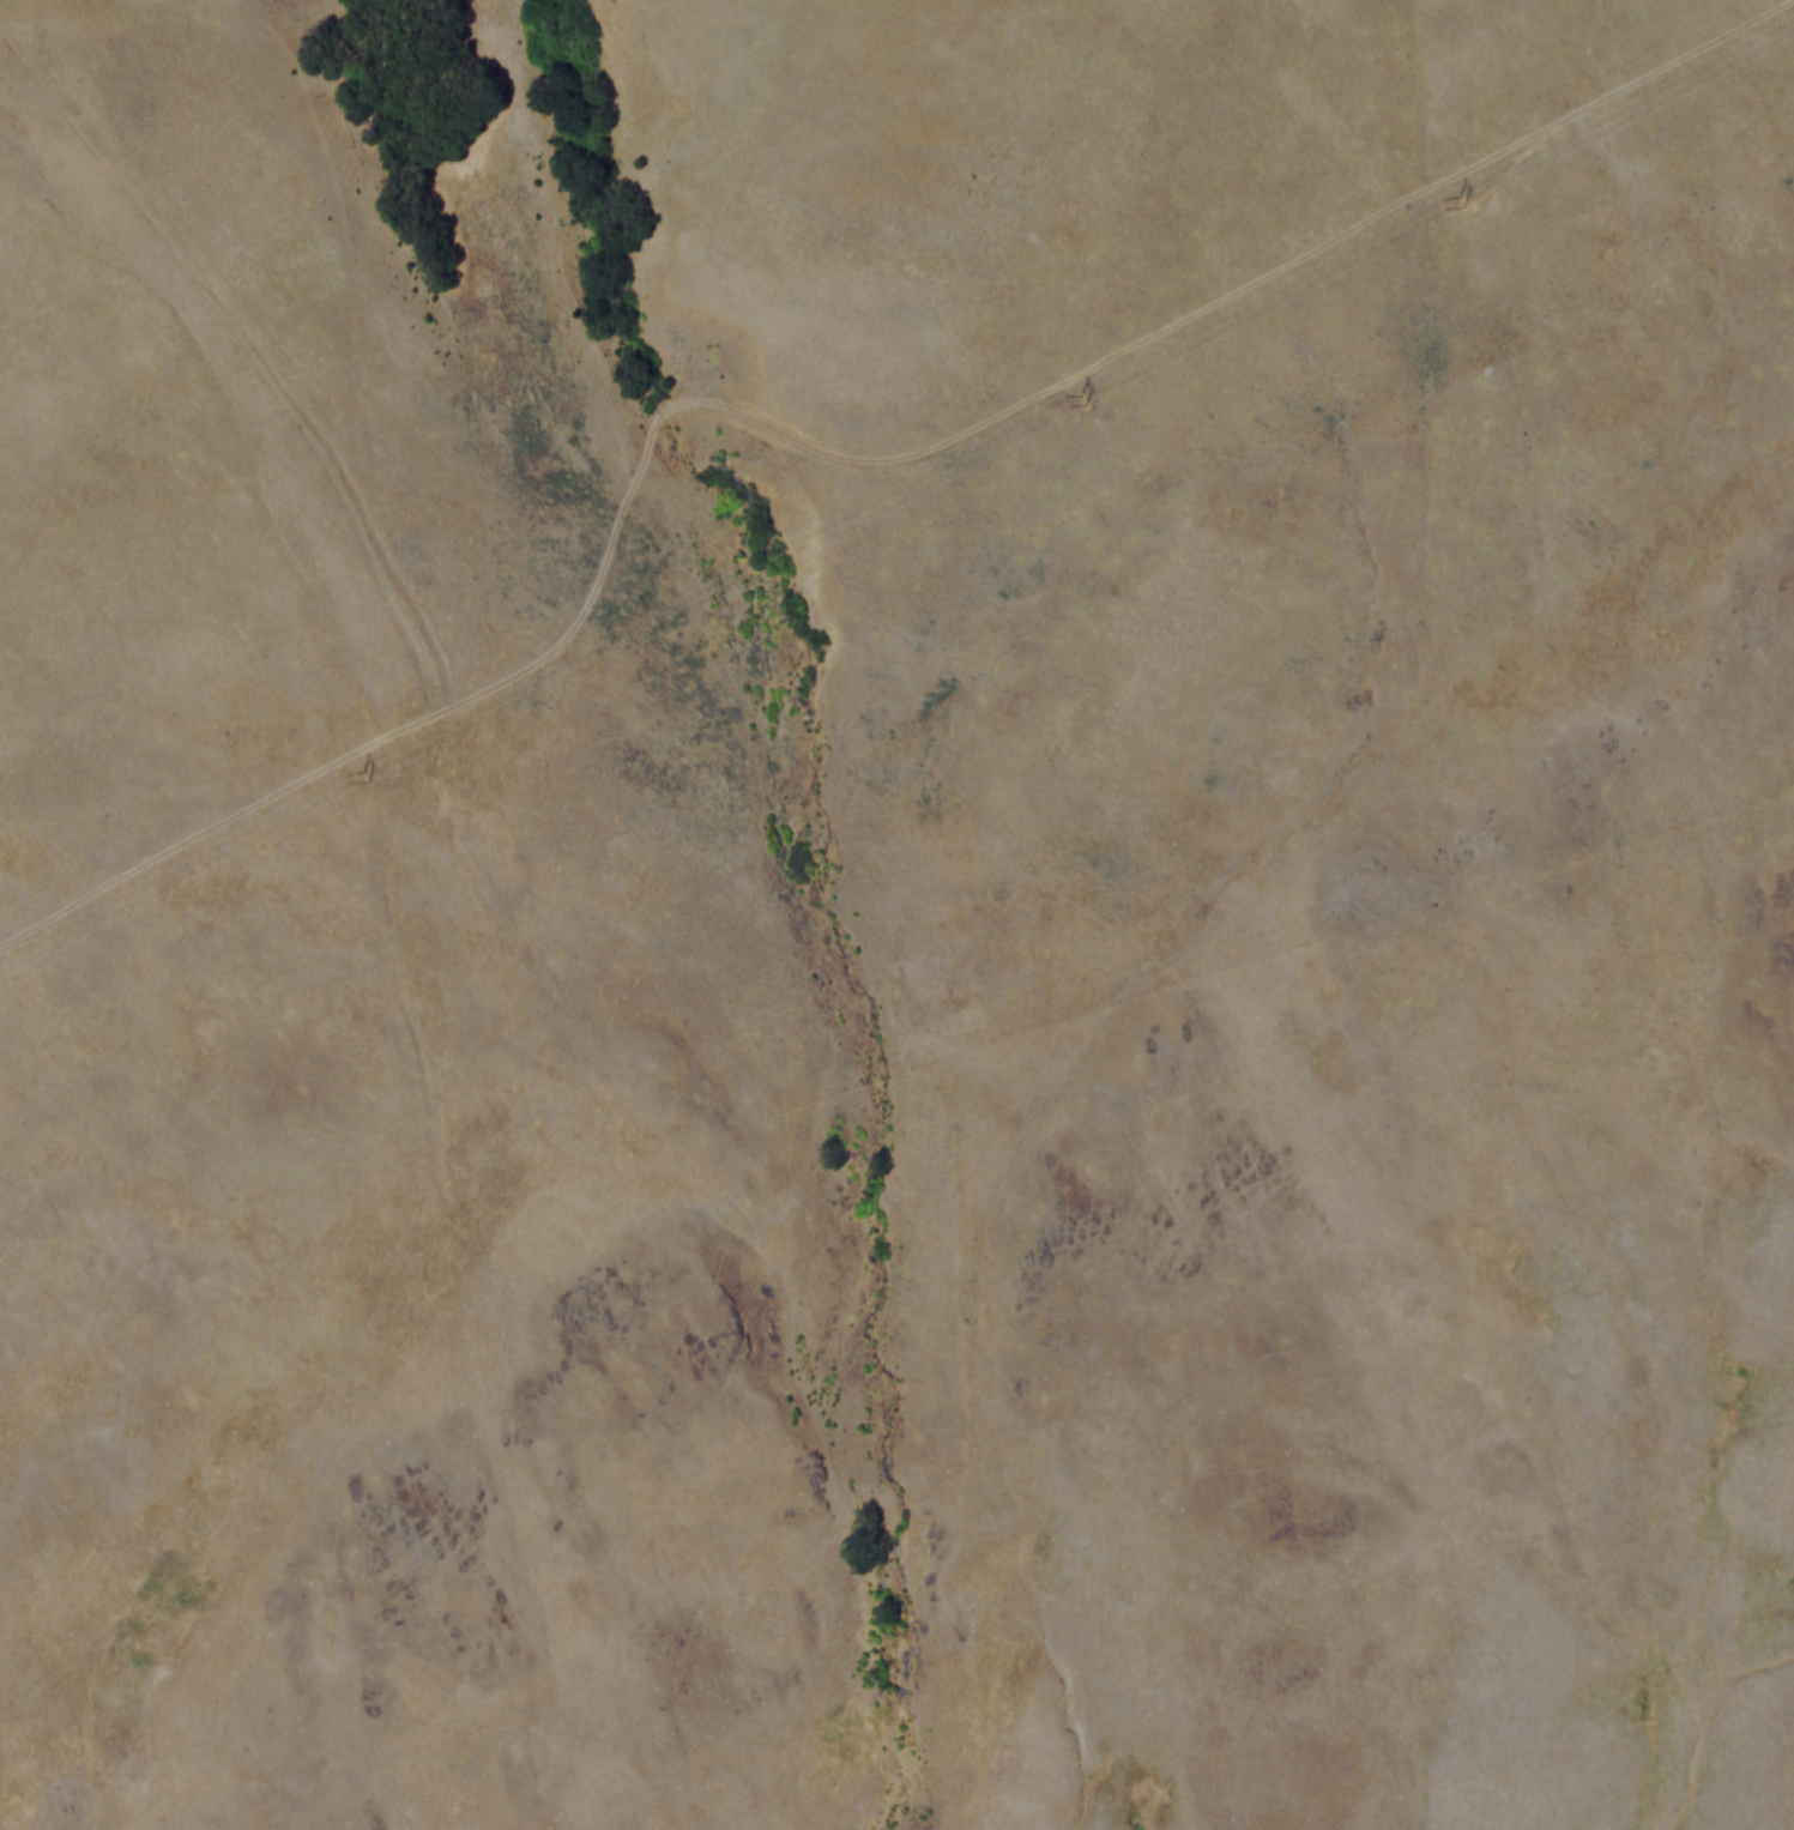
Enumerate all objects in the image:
power tower: (1458, 204)
power tower: (1082, 401)
road: (821, 449)
power tower: (366, 779)

